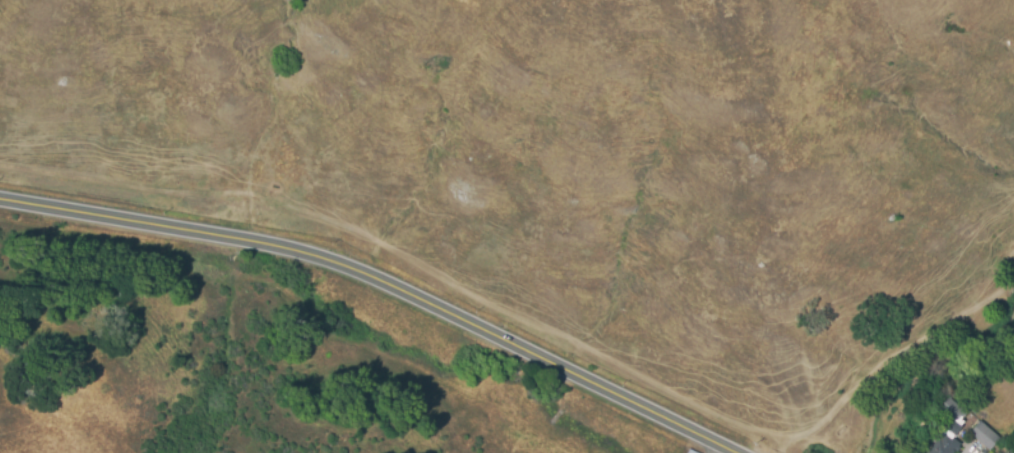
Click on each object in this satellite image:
road: (382, 282)
building: (1010, 451)

